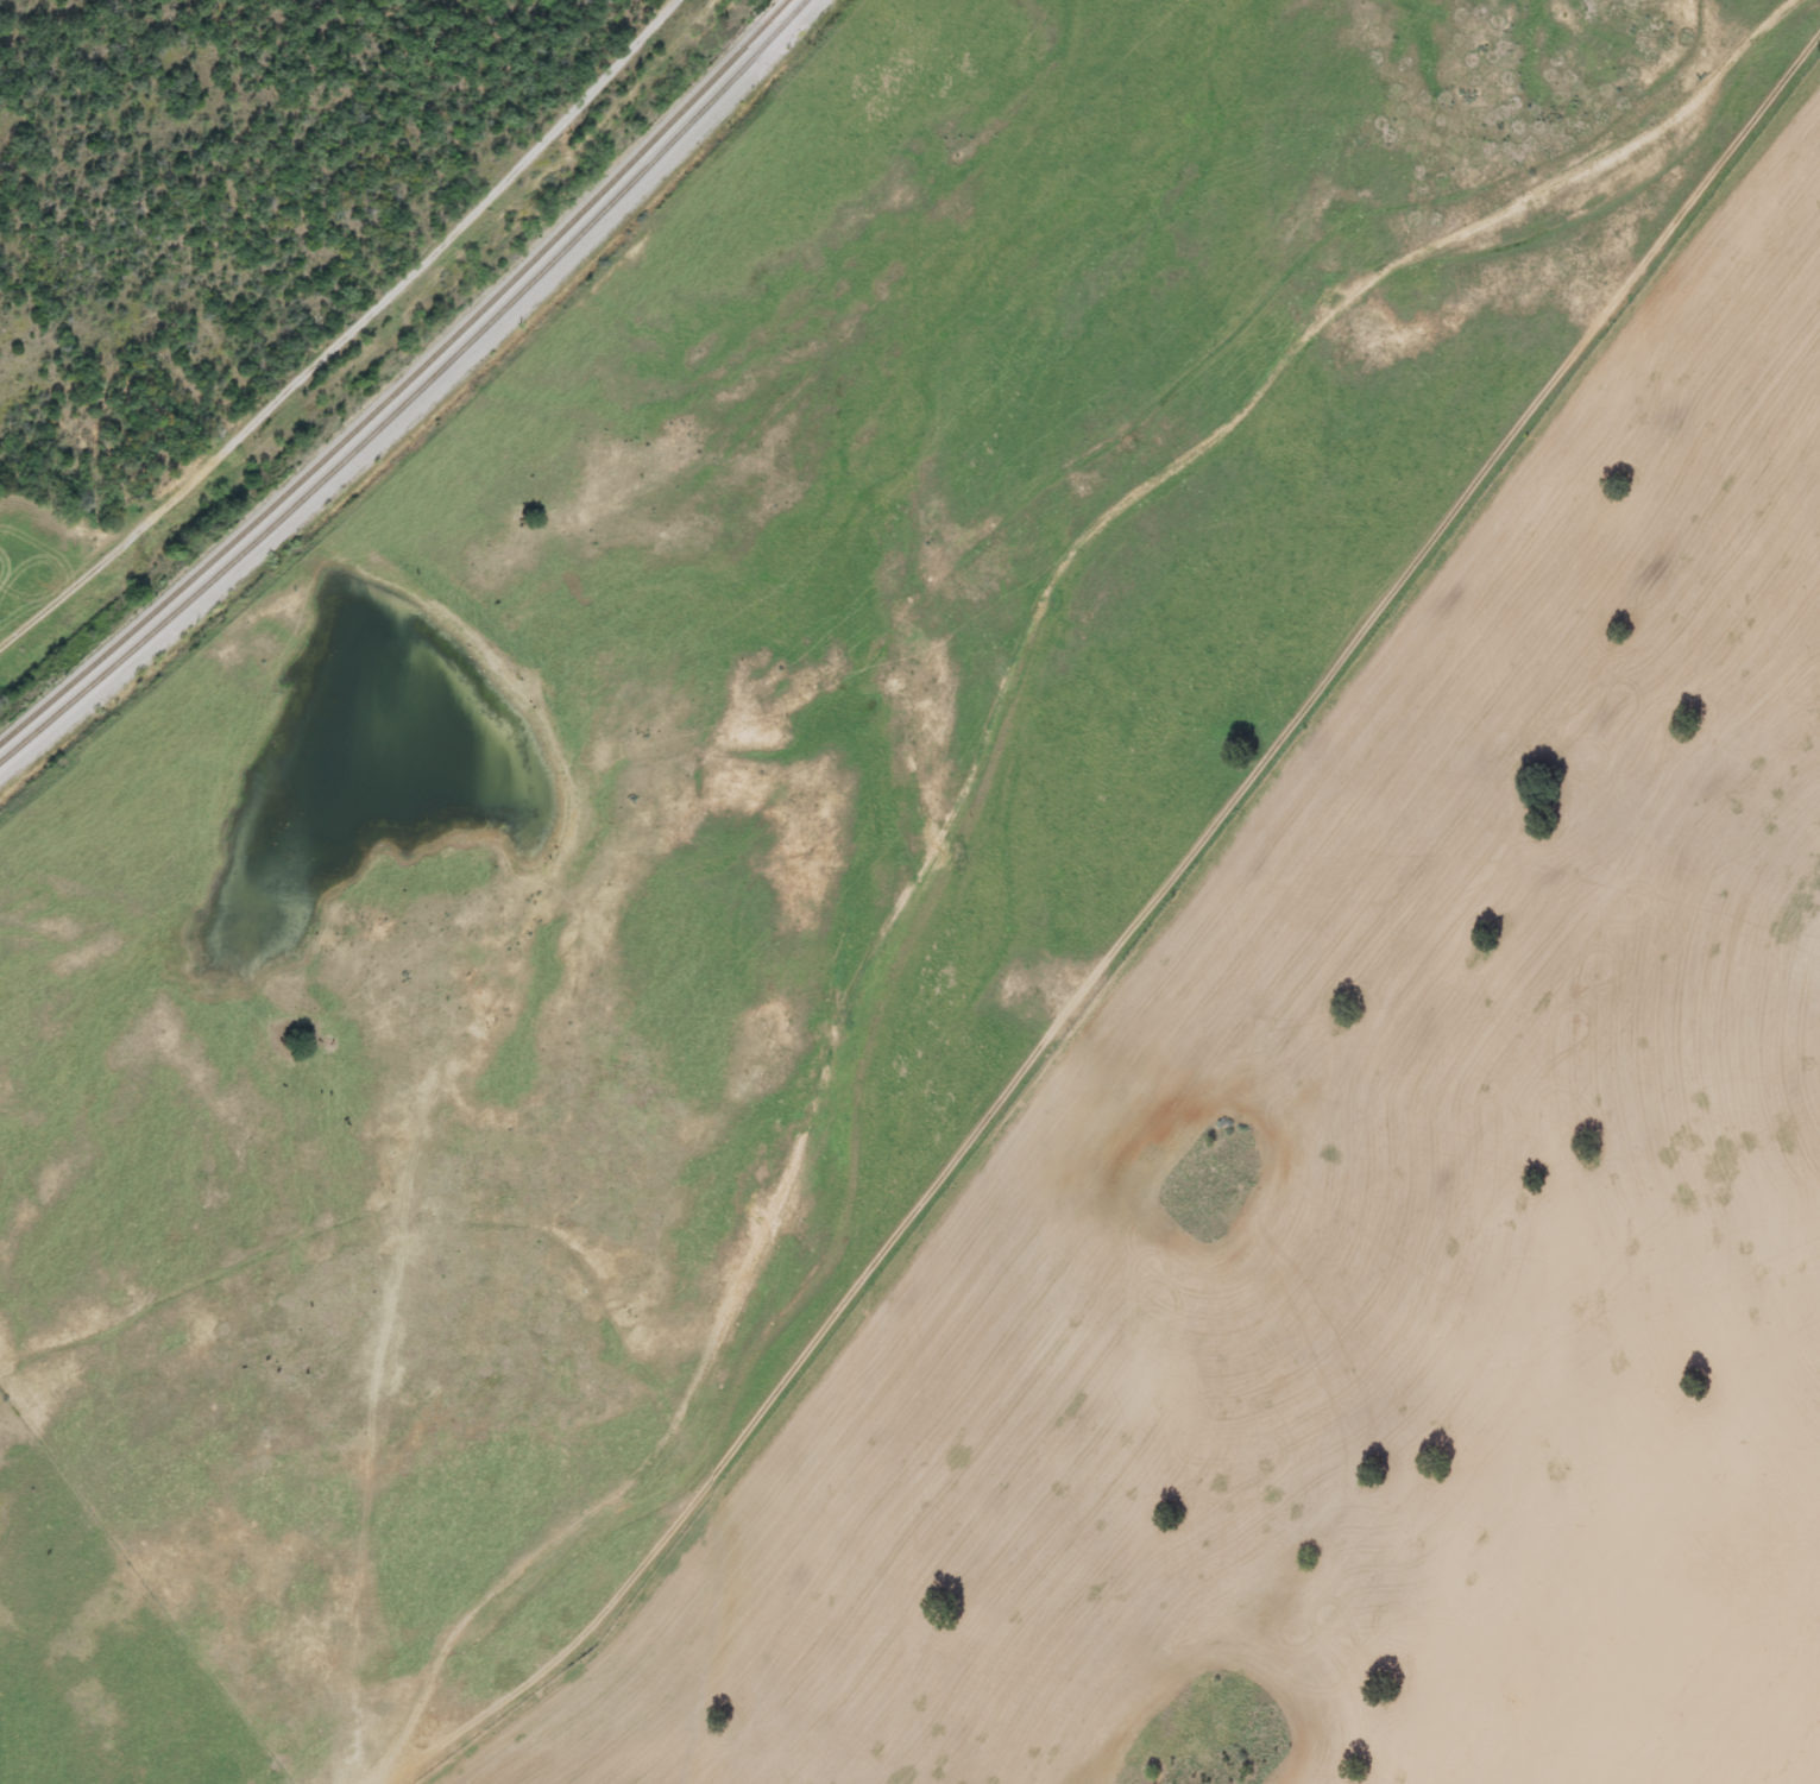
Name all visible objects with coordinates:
road: (347, 346)
railway: (401, 379)

